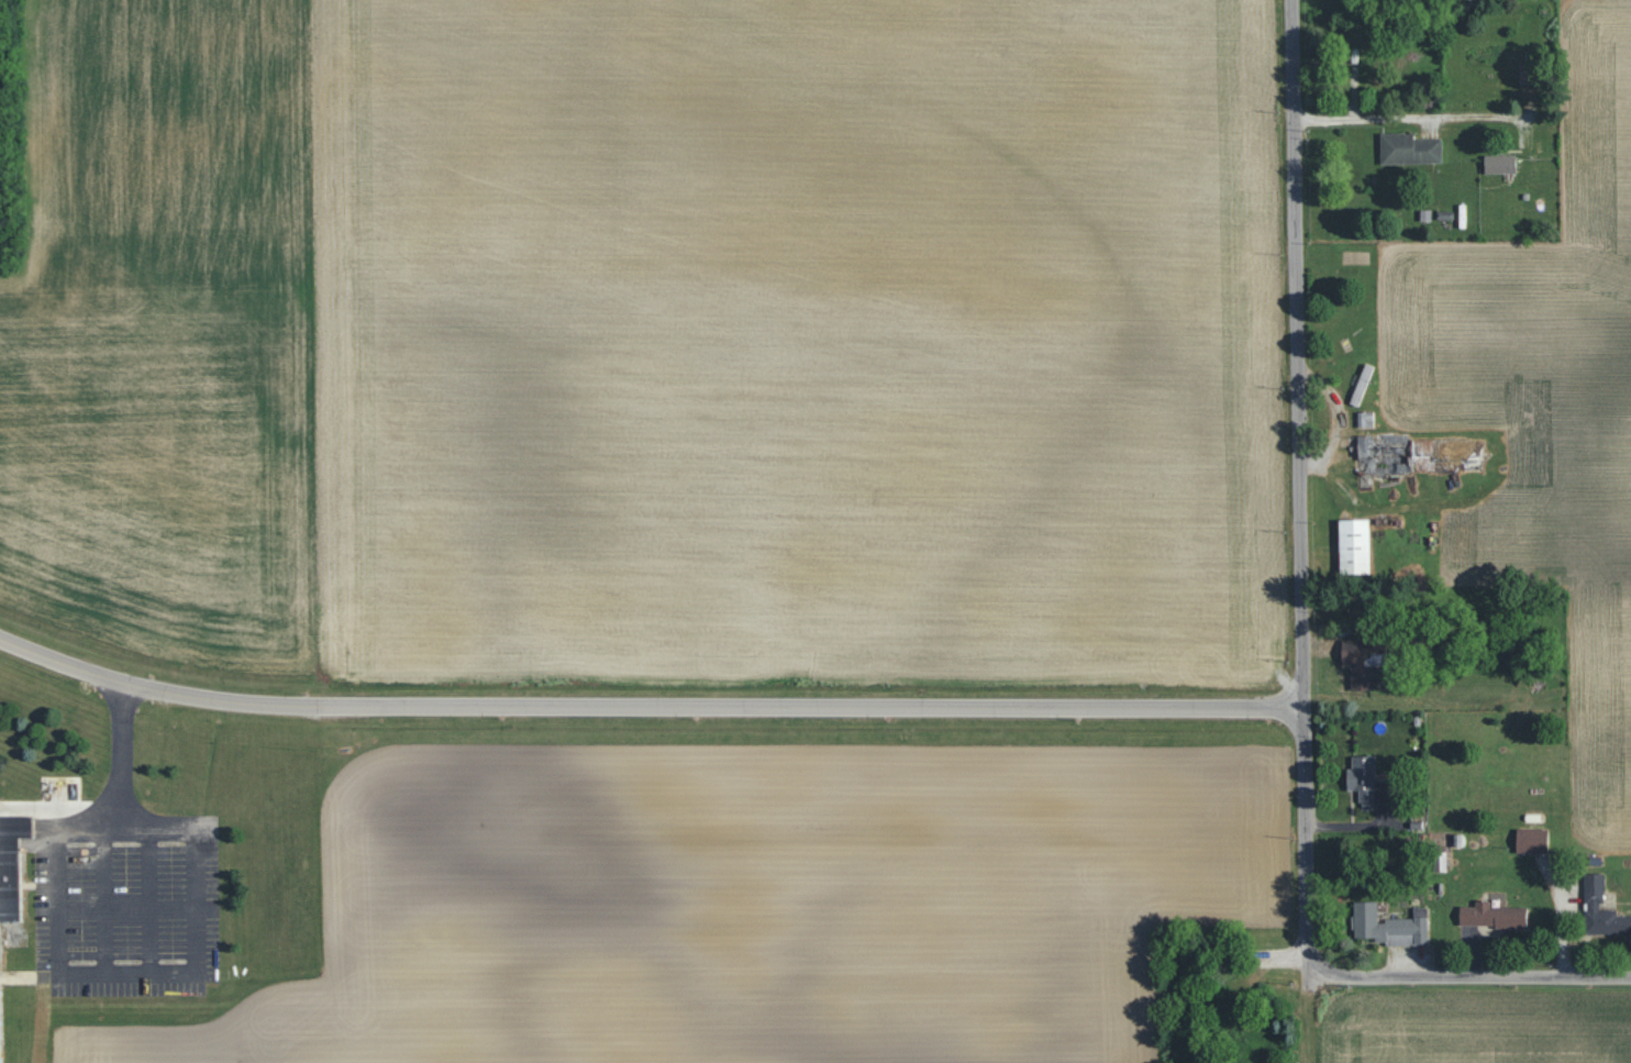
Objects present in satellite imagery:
road: (1407, 118)
building: (1408, 148)
building: (1499, 164)
building: (1361, 385)
building: (1365, 419)
building: (1367, 456)
road: (1292, 486)
building: (1353, 546)
building: (1363, 663)
road: (643, 705)
building: (1365, 782)
building: (1531, 841)
building: (10, 862)
road: (193, 898)
building: (1600, 911)
building: (1491, 916)
road: (1561, 916)
building: (1388, 927)
road: (1466, 974)

